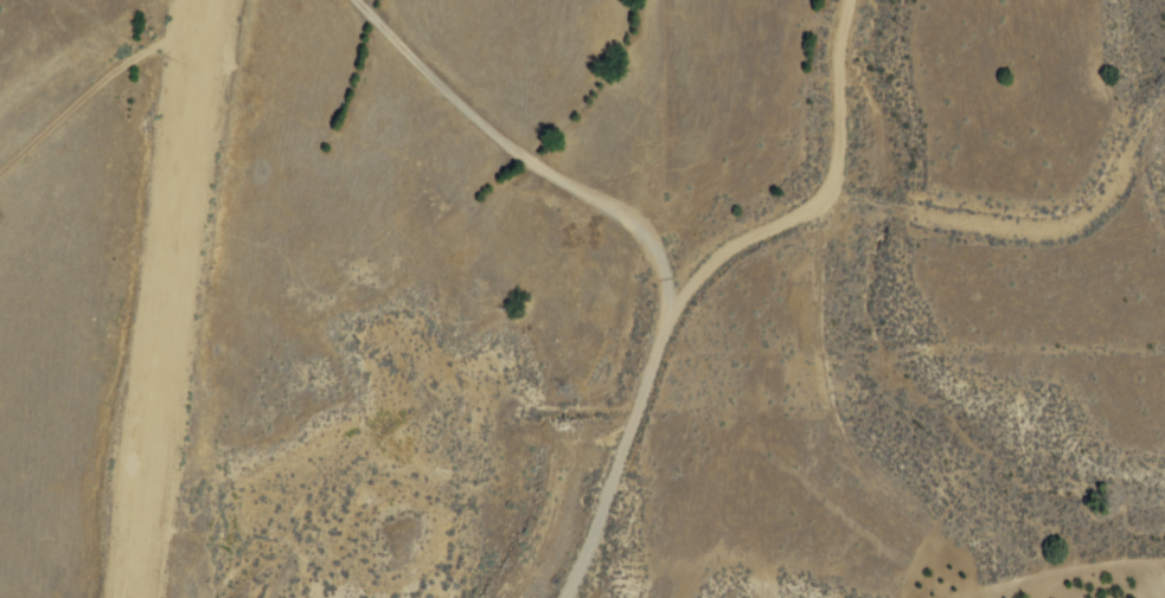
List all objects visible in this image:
road: (708, 277)
airport runway: (153, 298)
road: (806, 481)

